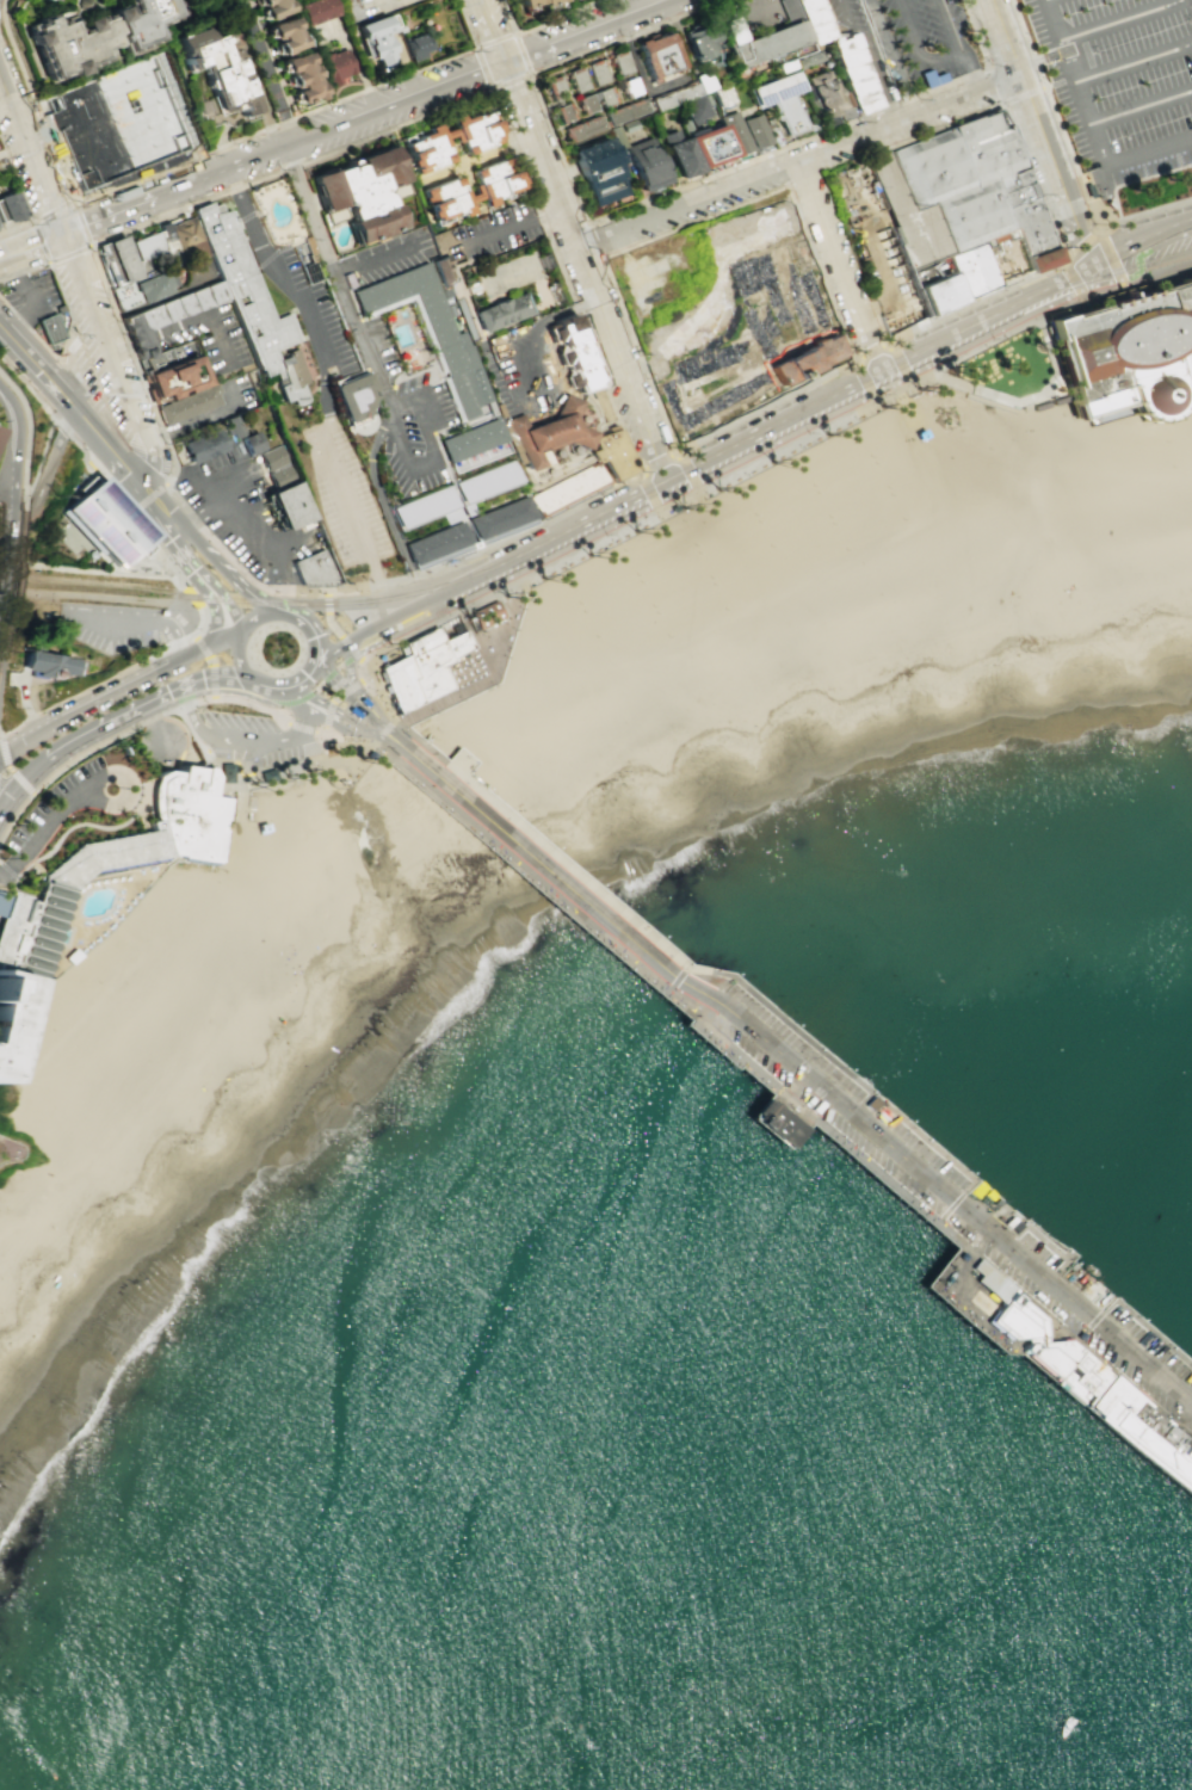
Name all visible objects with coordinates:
road: (390, 0)
building: (39, 2)
building: (544, 2)
building: (524, 4)
road: (635, 6)
road: (2, 7)
building: (270, 8)
building: (350, 8)
building: (786, 10)
building: (314, 11)
road: (507, 16)
road: (558, 16)
building: (811, 20)
road: (1118, 20)
road: (465, 23)
road: (949, 24)
road: (490, 32)
road: (587, 32)
building: (724, 32)
parking lot: (924, 36)
building: (283, 37)
parking lot: (535, 37)
building: (91, 39)
building: (375, 39)
building: (696, 41)
parking lot: (860, 42)
building: (413, 45)
building: (762, 45)
road: (919, 48)
building: (656, 56)
building: (809, 57)
road: (870, 57)
road: (895, 57)
road: (1038, 60)
road: (1132, 62)
building: (620, 63)
building: (333, 66)
road: (970, 68)
building: (214, 72)
road: (529, 72)
building: (595, 72)
road: (267, 73)
building: (853, 74)
building: (929, 78)
building: (298, 79)
building: (578, 79)
building: (700, 81)
parking lot: (1119, 81)
building: (630, 87)
building: (554, 88)
road: (1033, 88)
building: (606, 95)
building: (673, 95)
building: (718, 95)
building: (823, 95)
road: (1012, 97)
building: (778, 100)
road: (1049, 100)
building: (586, 104)
road: (1139, 107)
building: (693, 109)
building: (564, 112)
building: (625, 112)
road: (371, 116)
building: (122, 124)
road: (941, 124)
building: (630, 125)
road: (1088, 125)
building: (582, 128)
building: (754, 130)
building: (474, 131)
road: (1039, 131)
building: (734, 132)
building: (618, 137)
building: (708, 148)
building: (421, 150)
road: (32, 153)
road: (515, 153)
building: (677, 155)
road: (183, 160)
road: (796, 162)
building: (646, 163)
building: (597, 172)
road: (220, 173)
road: (1032, 183)
building: (366, 184)
building: (492, 184)
building: (976, 185)
road: (900, 191)
building: (323, 192)
road: (20, 196)
road: (73, 196)
road: (651, 196)
road: (1093, 198)
building: (444, 203)
building: (10, 208)
road: (131, 208)
road: (1154, 210)
road: (549, 211)
road: (683, 224)
building: (372, 226)
road: (502, 228)
parking lot: (499, 233)
road: (1141, 236)
building: (186, 237)
road: (594, 239)
building: (877, 245)
road: (32, 246)
road: (1081, 247)
building: (154, 249)
parking lot: (390, 254)
road: (372, 255)
road: (1018, 255)
building: (116, 259)
road: (1142, 259)
road: (1112, 261)
road: (836, 265)
railway: (1132, 265)
road: (331, 266)
road: (23, 268)
building: (971, 270)
building: (444, 271)
road: (583, 272)
road: (1073, 279)
road: (1137, 282)
road: (197, 285)
building: (144, 288)
building: (938, 294)
road: (202, 296)
road: (31, 297)
parking lot: (32, 298)
road: (148, 302)
building: (251, 303)
road: (975, 303)
road: (1060, 305)
building: (501, 310)
building: (727, 311)
building: (166, 314)
road: (554, 314)
parking lot: (315, 316)
road: (178, 323)
building: (49, 328)
road: (216, 334)
road: (138, 338)
road: (982, 342)
road: (121, 345)
building: (1126, 348)
building: (574, 350)
road: (60, 352)
road: (871, 352)
building: (160, 358)
road: (115, 359)
parking lot: (91, 362)
theme park: (1093, 365)
parking lot: (525, 366)
road: (877, 368)
building: (177, 375)
road: (1182, 379)
road: (26, 384)
building: (425, 384)
road: (325, 389)
road: (53, 391)
road: (580, 393)
building: (353, 394)
road: (382, 396)
road: (898, 396)
road: (1026, 397)
road: (515, 399)
road: (1185, 401)
road: (594, 403)
road: (994, 405)
building: (190, 406)
road: (766, 408)
road: (202, 416)
railway: (782, 418)
parking lot: (410, 420)
road: (62, 424)
building: (233, 425)
building: (544, 430)
road: (597, 432)
road: (591, 434)
road: (24, 437)
building: (252, 440)
park: (863, 443)
road: (12, 444)
building: (203, 444)
road: (432, 444)
road: (629, 446)
road: (430, 452)
building: (611, 452)
building: (273, 457)
road: (597, 461)
road: (659, 463)
road: (603, 467)
road: (604, 468)
park: (805, 471)
park: (878, 473)
road: (686, 474)
road: (43, 475)
building: (280, 475)
road: (706, 477)
building: (487, 482)
road: (116, 489)
building: (566, 489)
road: (650, 492)
road: (4, 493)
road: (144, 493)
road: (150, 496)
parking lot: (341, 498)
park: (748, 500)
building: (288, 502)
park: (821, 504)
park: (894, 506)
road: (383, 507)
building: (425, 507)
building: (672, 508)
road: (187, 513)
parking lot: (243, 516)
road: (198, 517)
building: (500, 518)
building: (109, 520)
road: (637, 521)
road: (580, 523)
park: (687, 531)
park: (762, 531)
road: (2, 532)
road: (247, 536)
park: (836, 536)
road: (172, 541)
park: (1, 543)
building: (438, 543)
park: (745, 550)
road: (79, 551)
building: (93, 554)
storage tank: (93, 554)
road: (166, 554)
power tower: (38, 557)
park: (631, 561)
road: (217, 562)
road: (172, 563)
park: (704, 563)
building: (314, 569)
flagpole: (128, 570)
road: (89, 572)
park: (778, 573)
street lamp: (167, 575)
road: (13, 579)
road: (183, 582)
road: (199, 582)
road: (210, 582)
road: (200, 587)
park: (572, 590)
park: (646, 593)
road: (191, 594)
park: (718, 595)
railway: (249, 599)
road: (264, 601)
road: (407, 610)
road: (431, 613)
road: (257, 616)
building: (484, 617)
road: (187, 619)
road: (203, 621)
road: (307, 621)
road: (499, 621)
road: (136, 622)
park: (588, 622)
parking lot: (109, 625)
park: (669, 626)
park: (110, 629)
road: (335, 630)
road: (226, 640)
road: (476, 641)
power tower: (23, 644)
road: (317, 655)
road: (239, 656)
park: (609, 656)
road: (210, 659)
building: (47, 663)
building: (419, 666)
road: (215, 675)
building: (884, 677)
road: (305, 679)
road: (483, 679)
road: (353, 681)
road: (97, 684)
road: (266, 687)
road: (344, 689)
road: (214, 693)
road: (104, 696)
road: (332, 698)
toll booth: (363, 699)
road: (25, 700)
power tower: (12, 704)
road: (335, 709)
toll booth: (352, 711)
toll booth: (376, 714)
road: (153, 717)
road: (383, 718)
toll booth: (354, 721)
road: (105, 722)
road: (150, 723)
road: (303, 727)
road: (382, 732)
road: (190, 734)
road: (93, 739)
road: (245, 739)
parking lot: (249, 739)
road: (212, 745)
road: (425, 746)
building: (369, 752)
road: (10, 770)
building: (266, 771)
building: (226, 772)
road: (297, 772)
road: (237, 780)
road: (14, 783)
road: (125, 788)
road: (227, 808)
road: (13, 813)
parking lot: (47, 816)
road: (79, 822)
road: (43, 826)
building: (150, 829)
road: (175, 856)
road: (6, 869)
road: (150, 872)
road: (2, 874)
road: (2, 883)
road: (228, 893)
road: (2, 902)
road: (112, 909)
building: (29, 939)
road: (657, 945)
road: (674, 981)
building: (296, 996)
park: (43, 1008)
park: (33, 1056)
road: (790, 1063)
road: (760, 1075)
building: (780, 1124)
pier: (866, 1147)
road: (953, 1203)
parking lot: (959, 1204)
road: (1042, 1242)
road: (1064, 1253)
building: (989, 1279)
building: (983, 1303)
building: (1017, 1320)
road: (980, 1321)
road: (1092, 1321)
road: (1151, 1334)
building: (1068, 1368)
building: (1145, 1432)

